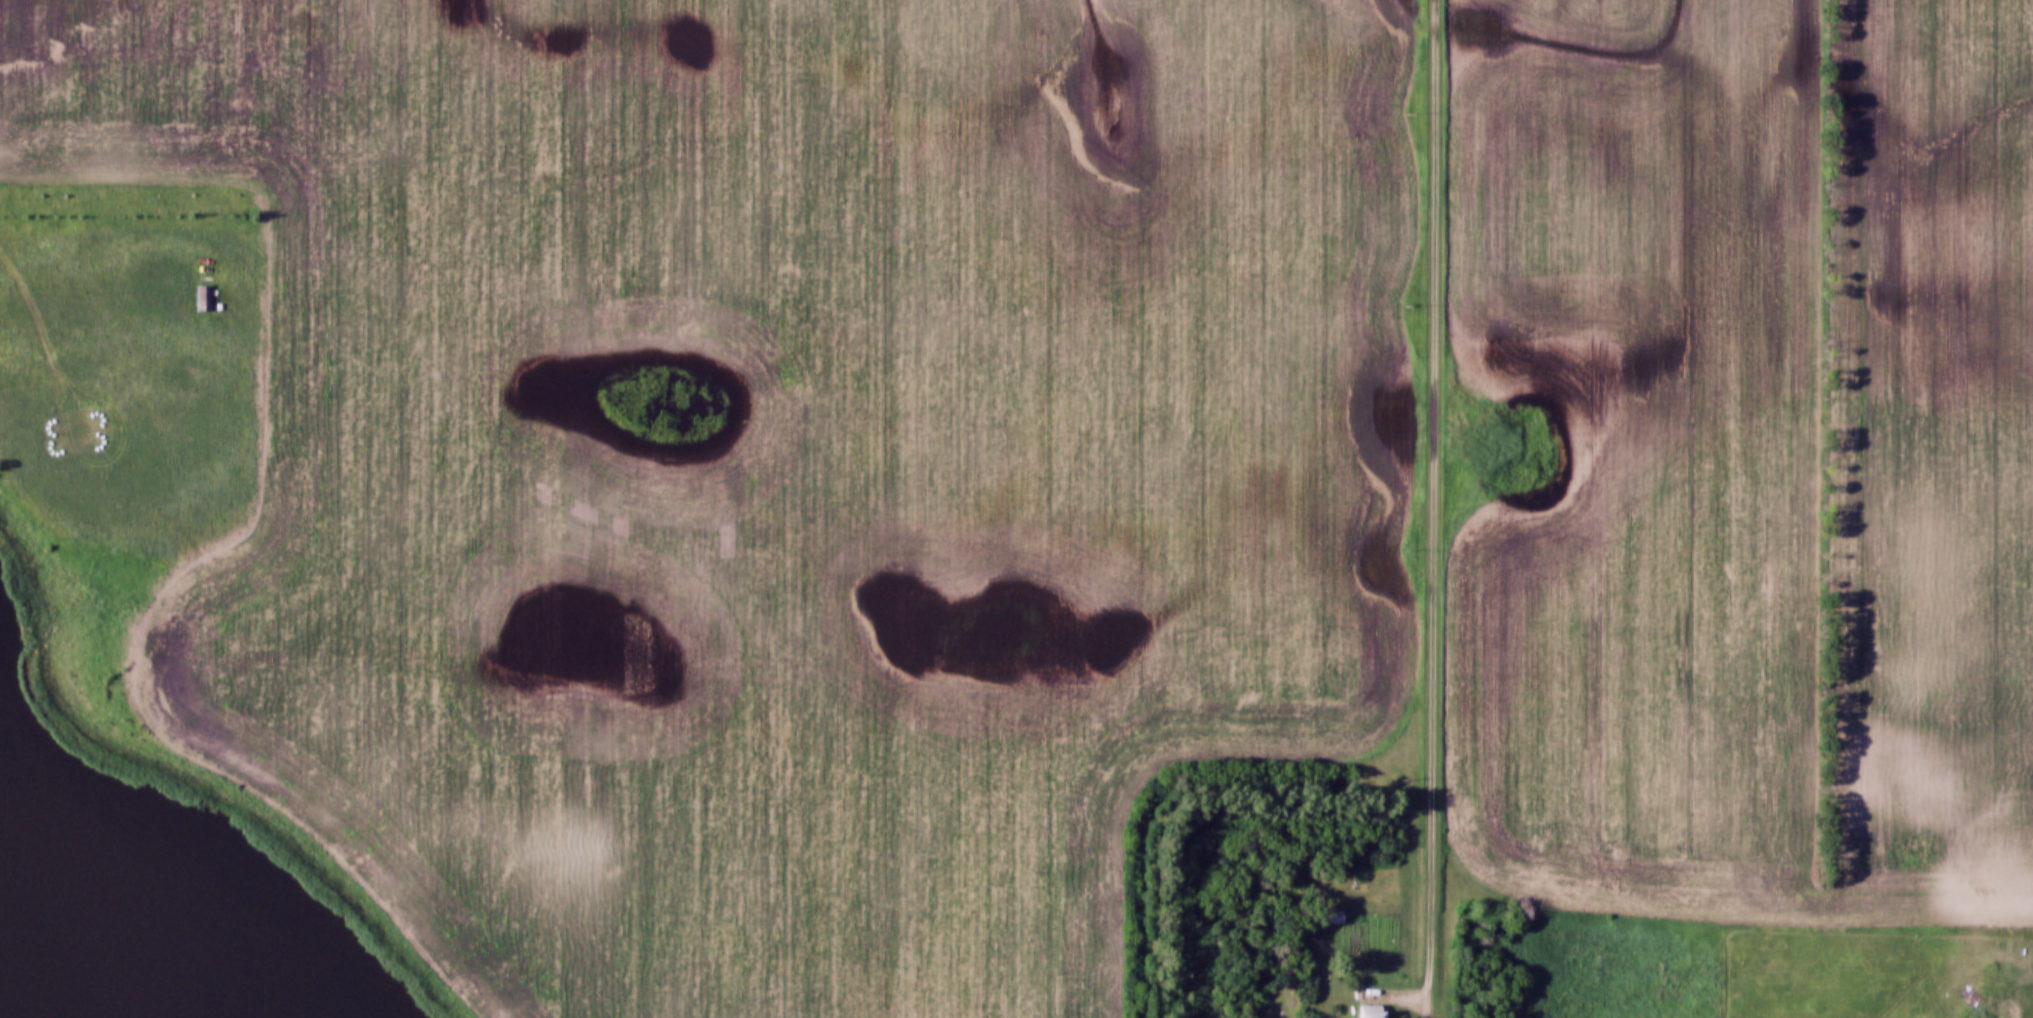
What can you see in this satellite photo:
building: (204, 297)
road: (1434, 509)
building: (1334, 921)
building: (1376, 1012)

